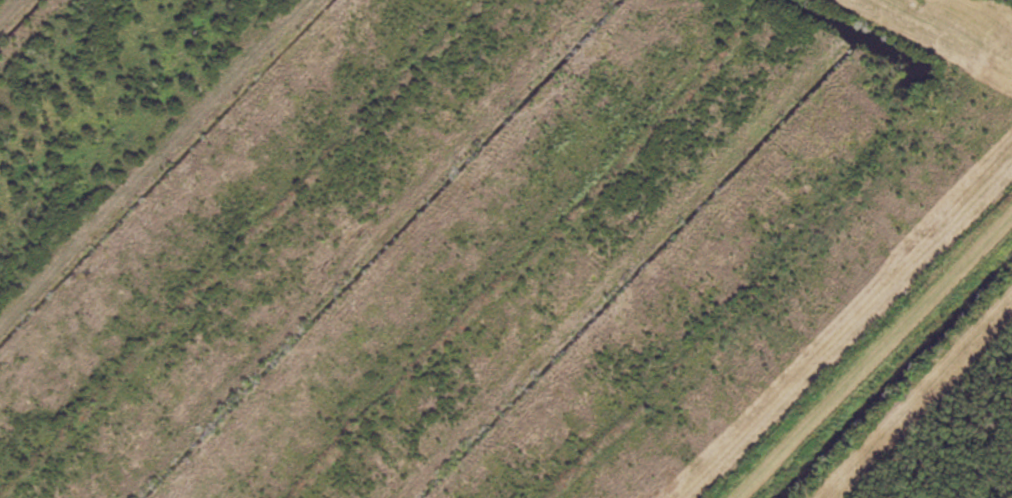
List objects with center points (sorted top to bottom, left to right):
road: (873, 356)

